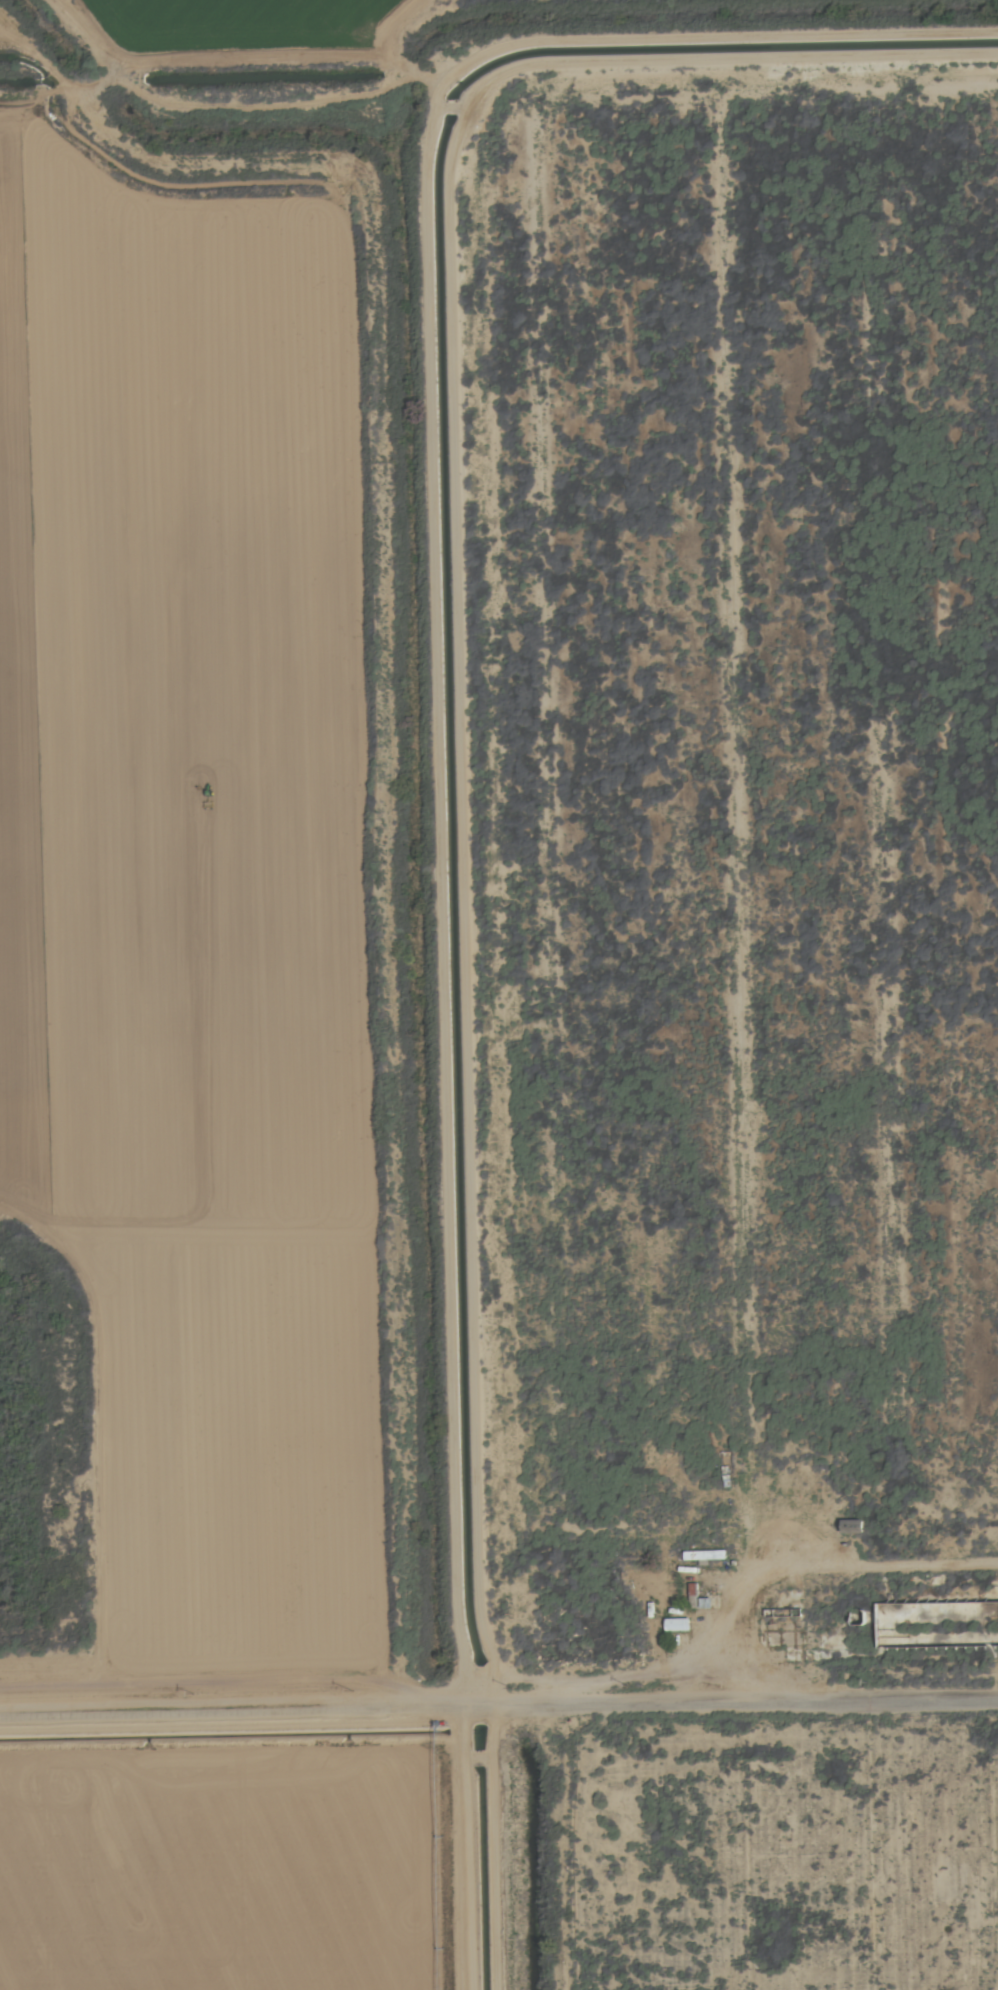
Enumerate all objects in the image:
building: (682, 1625)
road: (807, 1684)
road: (566, 1687)
road: (258, 1693)

